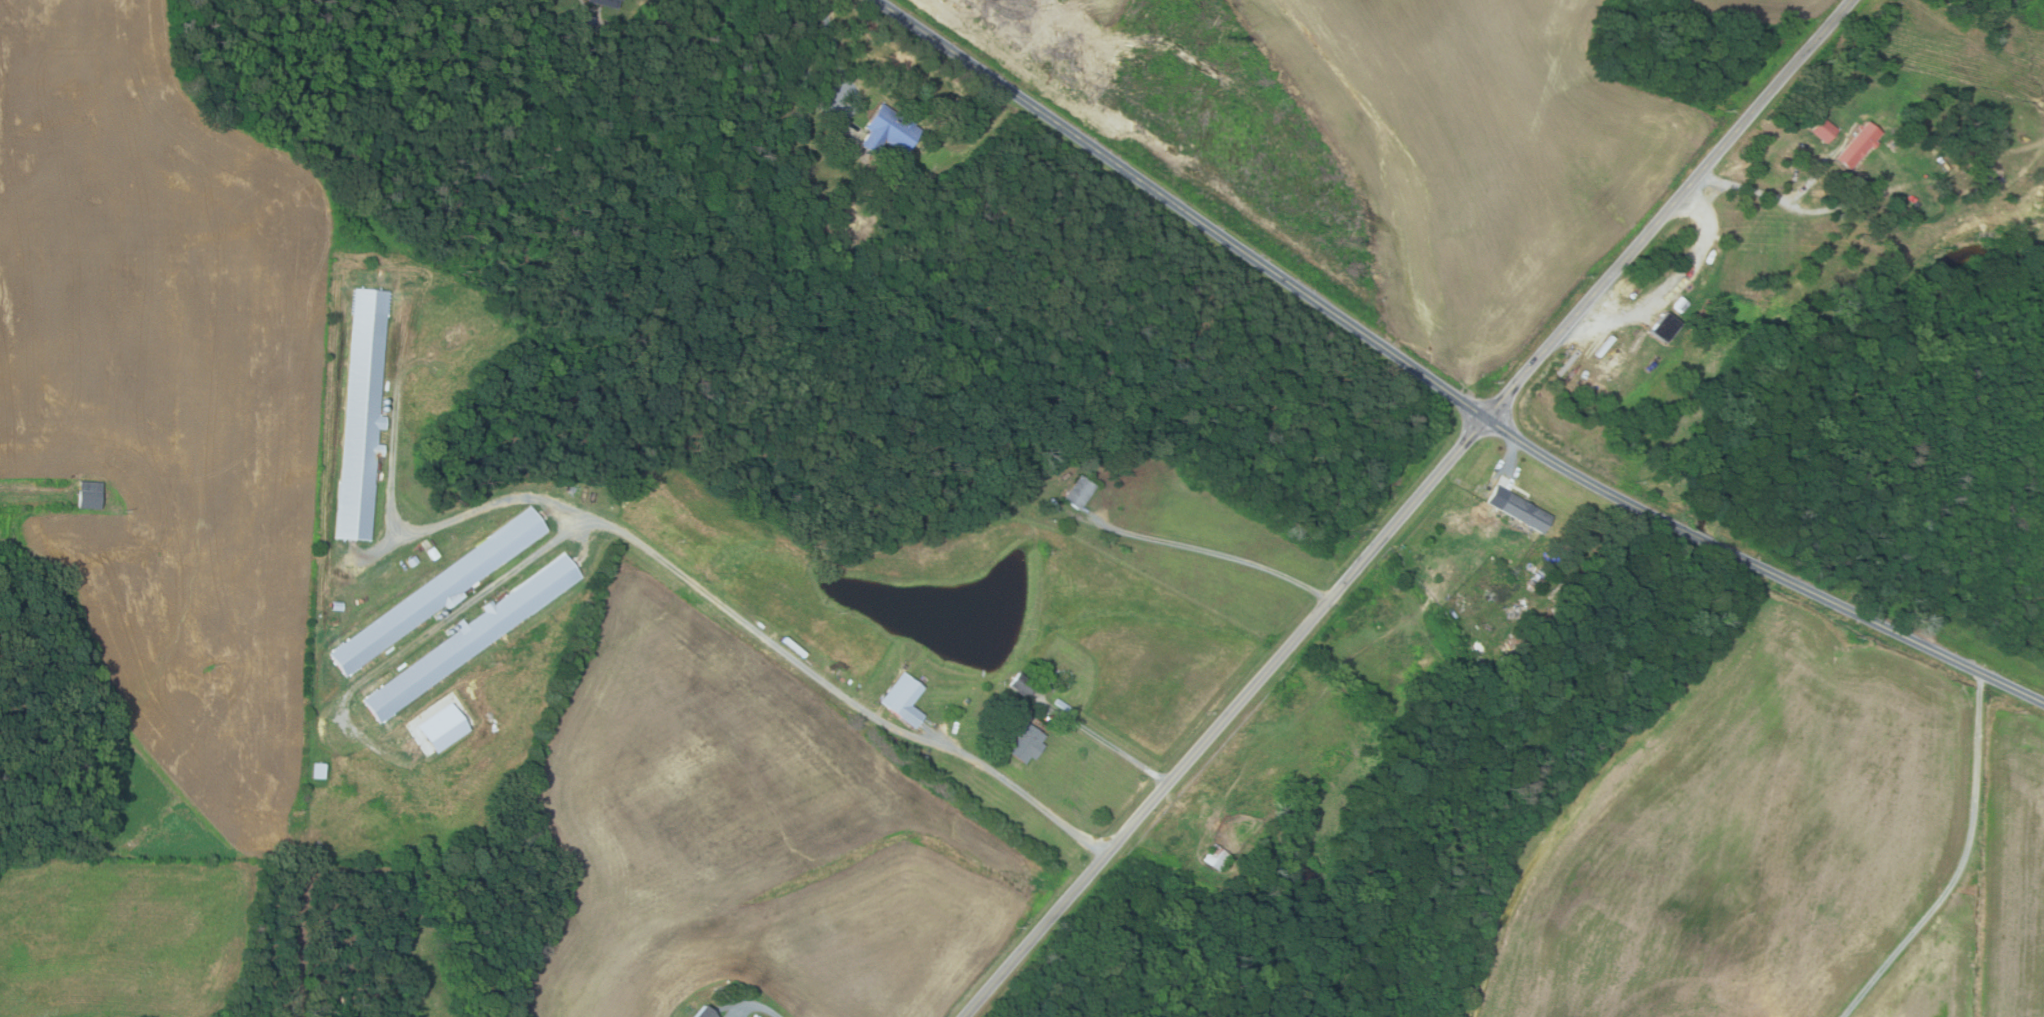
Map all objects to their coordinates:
building: (604, 3)
road: (825, 3)
crop: (1760, 11)
crop: (1108, 16)
building: (589, 20)
road: (837, 115)
building: (887, 129)
building: (1822, 129)
building: (1894, 142)
building: (1857, 144)
crop: (1477, 155)
building: (1797, 160)
building: (1982, 172)
building: (803, 178)
road: (1770, 196)
road: (1281, 276)
road: (1673, 287)
building: (1678, 304)
building: (1664, 326)
crop: (166, 409)
building: (361, 414)
road: (1510, 459)
building: (1036, 460)
building: (1027, 476)
building: (1078, 493)
building: (88, 494)
road: (1408, 508)
building: (1517, 508)
road: (1702, 539)
road: (642, 547)
building: (430, 552)
road: (1213, 552)
building: (411, 560)
building: (1540, 570)
building: (1538, 578)
building: (1531, 584)
building: (437, 591)
building: (335, 605)
road: (1877, 621)
building: (1534, 622)
building: (469, 639)
building: (1524, 645)
building: (1522, 654)
building: (1021, 685)
building: (902, 699)
building: (966, 701)
building: (1023, 740)
road: (947, 741)
road: (1105, 742)
building: (316, 770)
road: (1039, 806)
crop: (1740, 832)
crop: (749, 839)
building: (1214, 857)
road: (1963, 863)
crop: (1988, 894)
road: (766, 1008)
building: (703, 1012)
building: (751, 1016)

